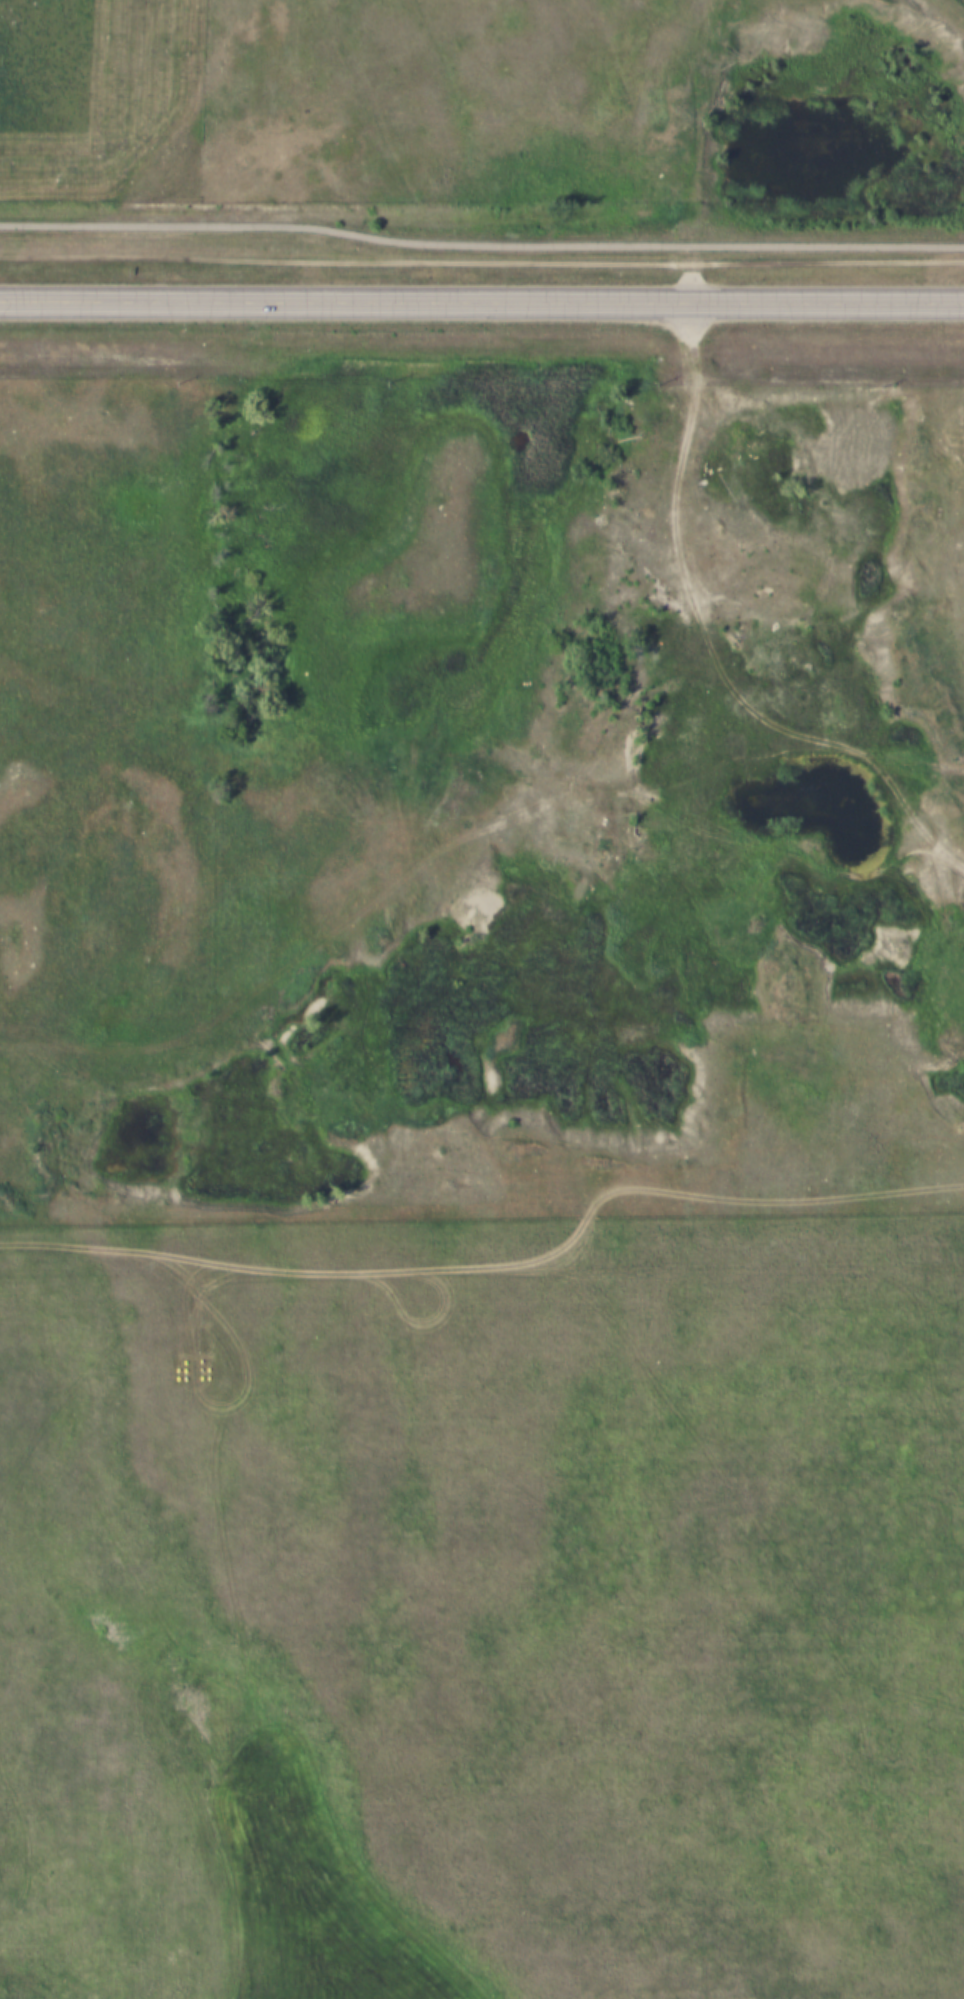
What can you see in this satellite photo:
road: (481, 245)
road: (373, 298)
road: (855, 300)
road: (710, 641)

